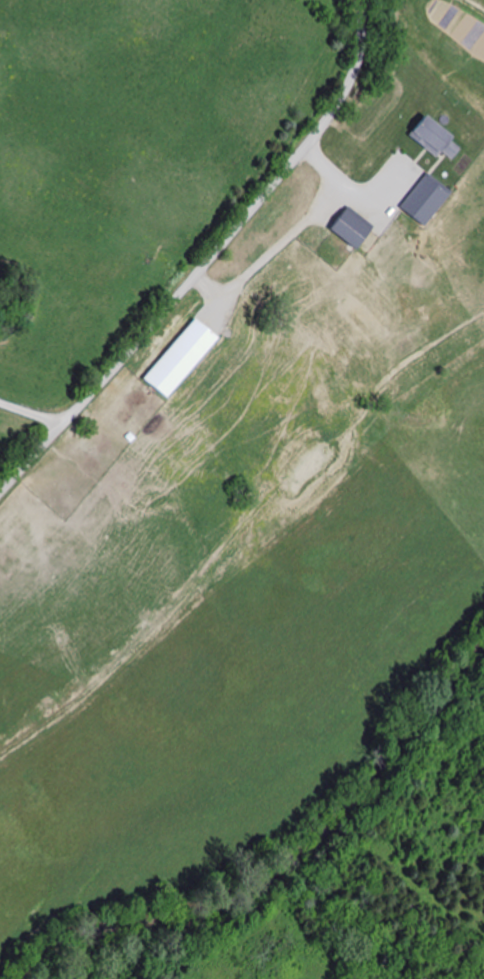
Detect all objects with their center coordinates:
building: (420, 201)
building: (347, 229)
road: (205, 260)
building: (14, 530)

